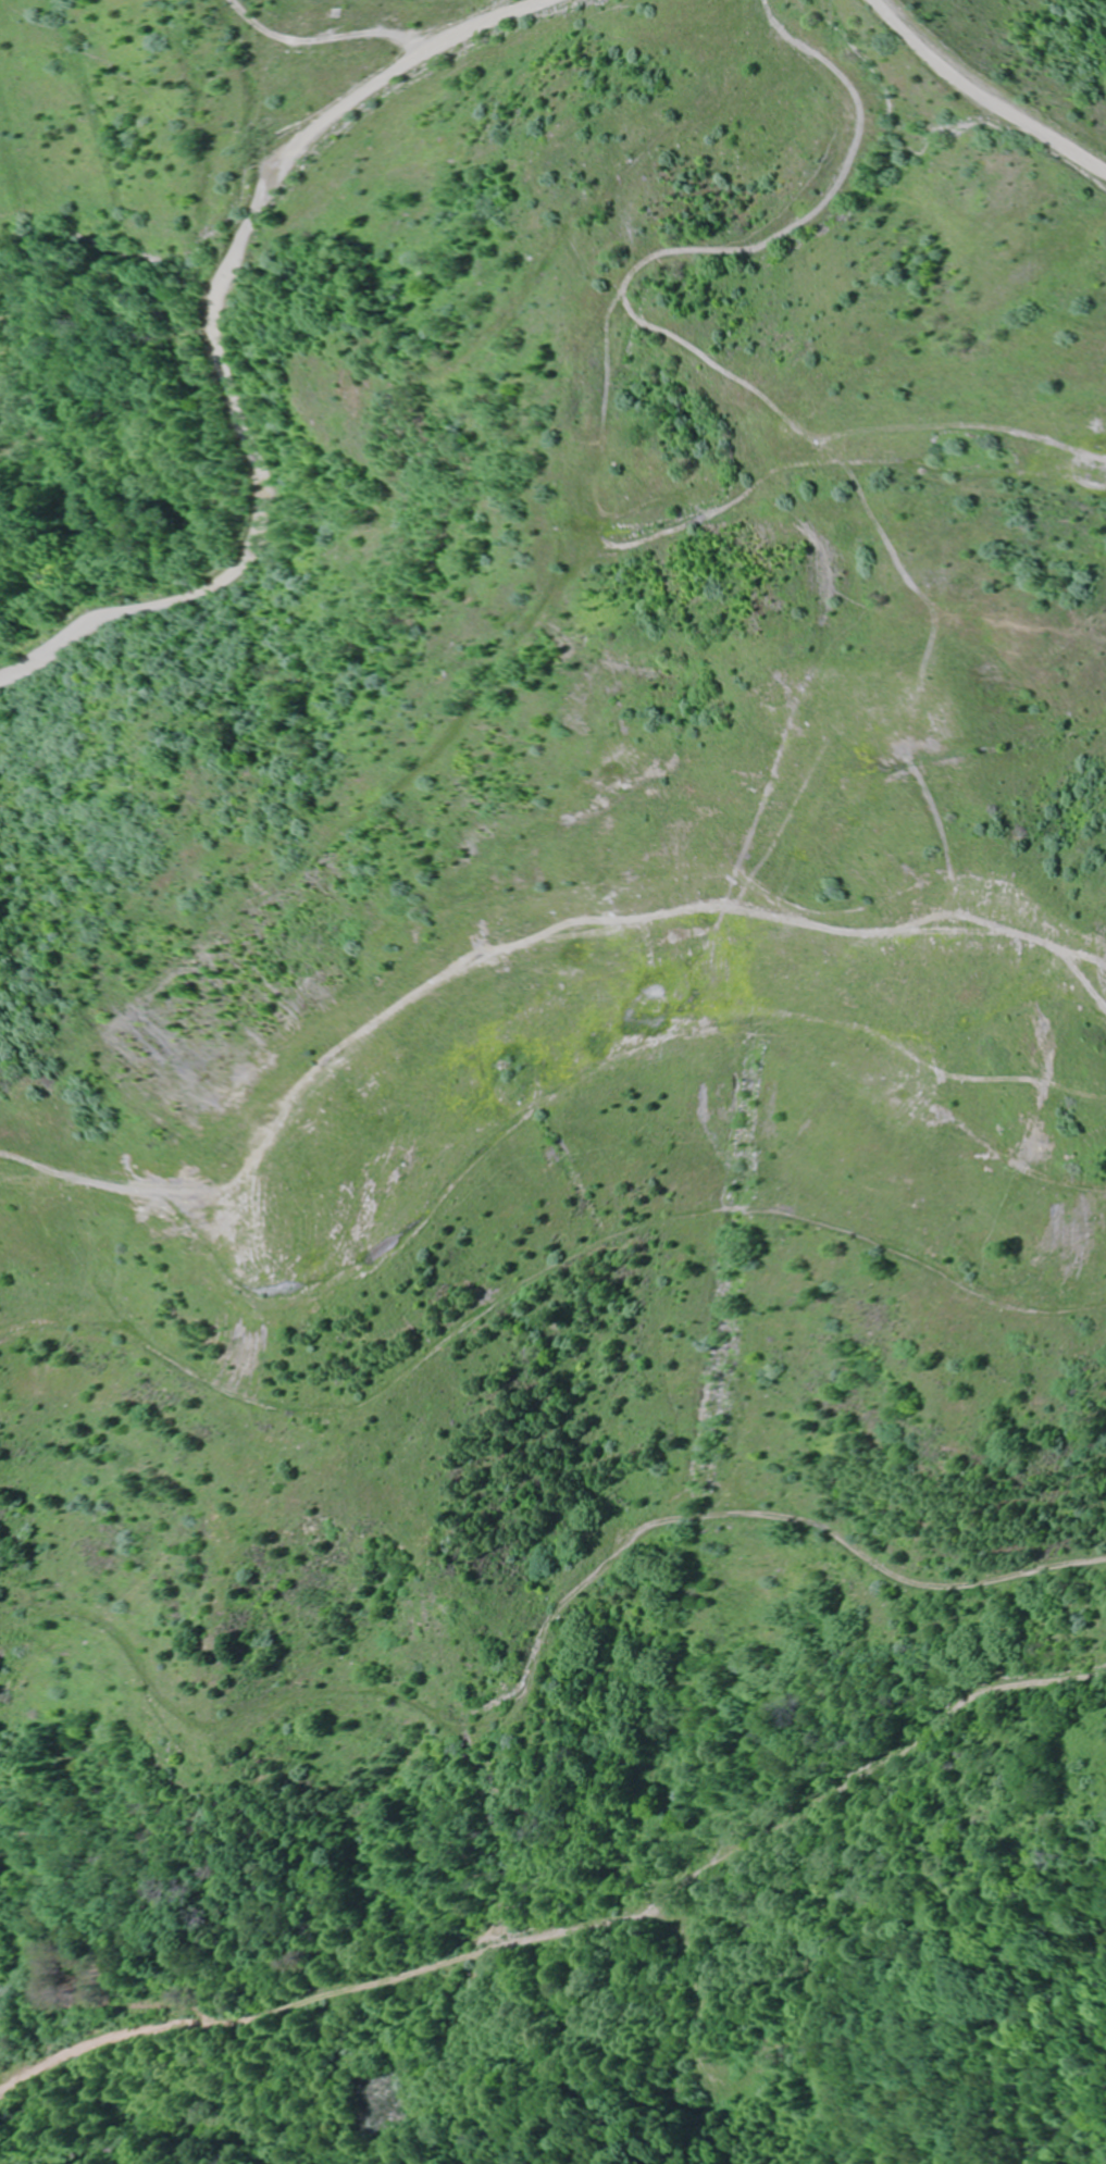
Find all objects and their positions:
road: (1009, 88)
road: (227, 350)
road: (539, 1650)
road: (859, 1768)
road: (411, 1968)

